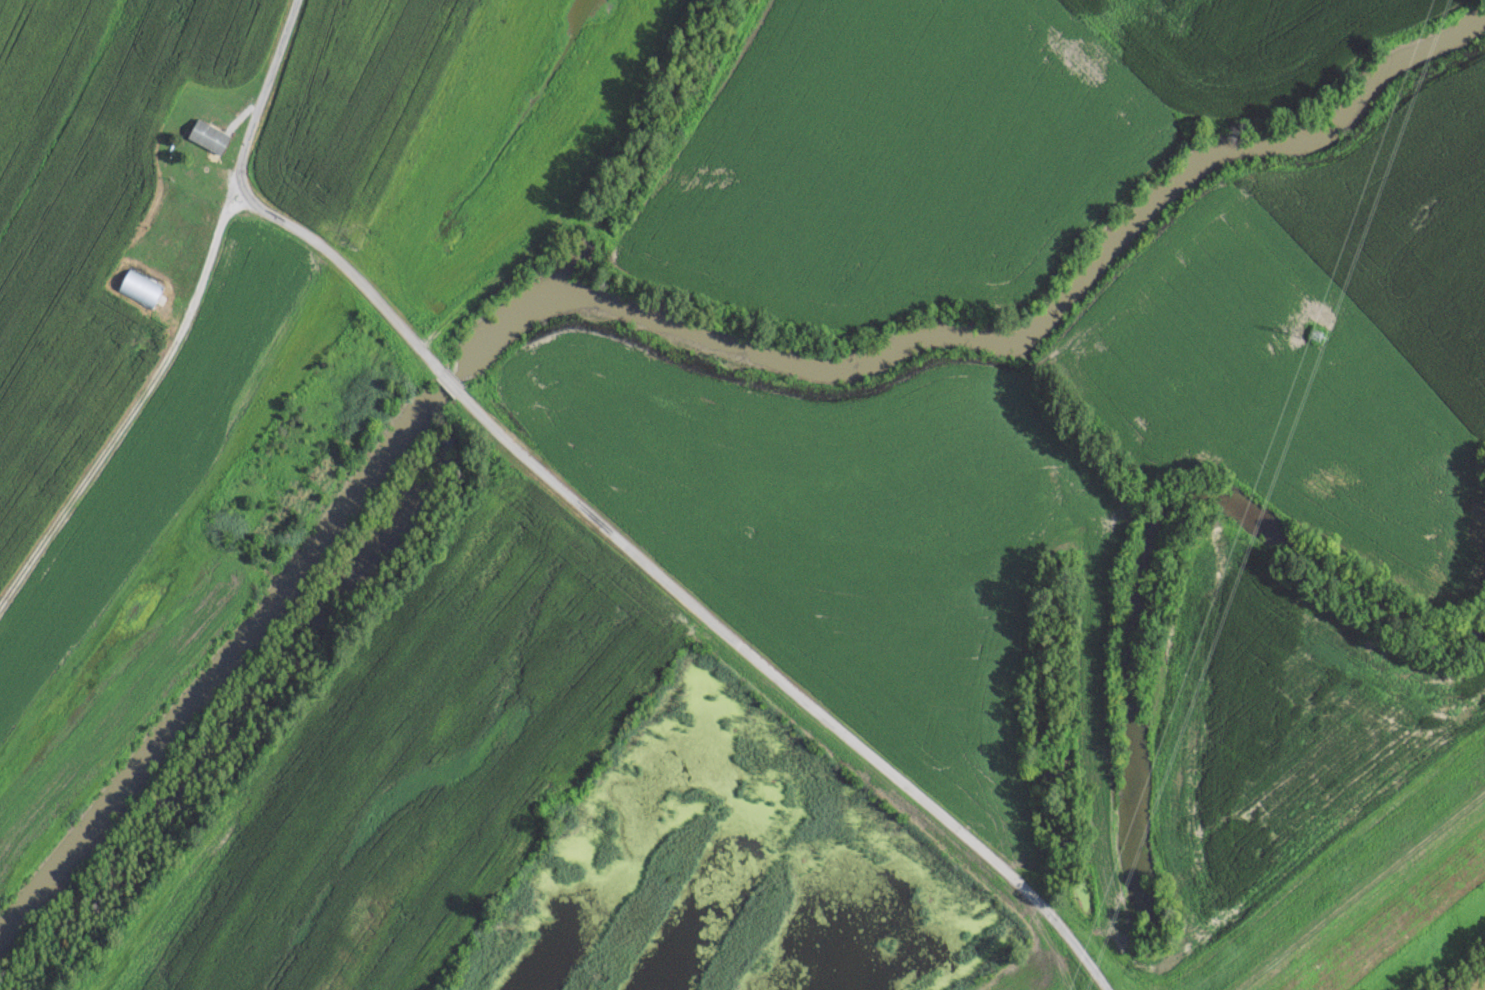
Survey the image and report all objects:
building: (208, 135)
building: (139, 286)
power tower: (1314, 333)
road: (600, 523)

